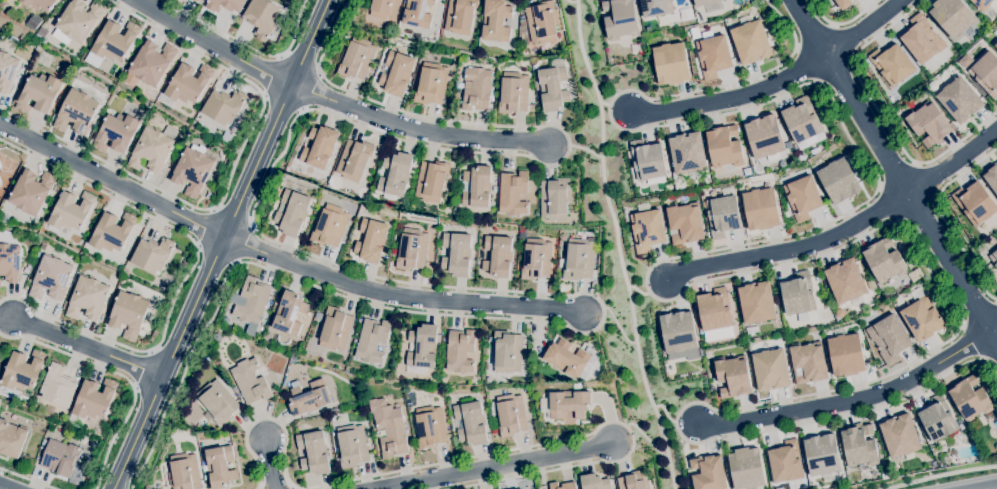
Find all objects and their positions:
building: (855, 0)
building: (198, 1)
building: (703, 2)
road: (572, 3)
building: (843, 3)
building: (40, 4)
building: (982, 4)
building: (224, 5)
building: (655, 8)
building: (385, 9)
building: (417, 13)
road: (819, 13)
building: (14, 14)
building: (952, 16)
building: (262, 17)
building: (460, 17)
road: (856, 17)
building: (619, 18)
building: (79, 20)
building: (496, 21)
building: (34, 22)
building: (522, 23)
building: (541, 23)
road: (861, 26)
road: (296, 28)
road: (224, 32)
building: (42, 33)
building: (115, 40)
building: (922, 40)
building: (751, 42)
road: (214, 44)
building: (996, 45)
building: (713, 56)
building: (356, 58)
building: (152, 63)
building: (671, 64)
building: (892, 65)
building: (7, 71)
building: (66, 71)
building: (396, 73)
building: (987, 74)
road: (860, 75)
road: (270, 77)
building: (189, 83)
building: (431, 84)
building: (553, 86)
building: (477, 89)
building: (513, 93)
building: (38, 94)
building: (959, 100)
road: (734, 101)
road: (604, 104)
building: (224, 106)
building: (76, 112)
building: (802, 121)
building: (929, 124)
road: (416, 130)
road: (637, 131)
building: (116, 133)
building: (226, 137)
building: (765, 137)
road: (960, 141)
building: (319, 147)
building: (724, 147)
building: (152, 149)
road: (584, 150)
building: (687, 153)
building: (353, 160)
building: (648, 160)
road: (953, 161)
building: (192, 169)
road: (895, 170)
building: (395, 175)
building: (992, 178)
road: (230, 179)
building: (431, 181)
building: (838, 181)
road: (112, 184)
building: (477, 187)
building: (31, 191)
road: (101, 191)
building: (513, 193)
building: (803, 198)
building: (555, 199)
building: (975, 203)
building: (761, 209)
building: (71, 211)
building: (291, 213)
building: (723, 216)
road: (941, 218)
building: (685, 224)
building: (329, 226)
building: (647, 230)
building: (112, 232)
building: (371, 240)
road: (220, 244)
road: (617, 244)
road: (791, 248)
building: (982, 249)
building: (411, 250)
building: (152, 254)
building: (457, 254)
building: (497, 256)
building: (994, 258)
building: (536, 259)
building: (579, 260)
building: (884, 261)
building: (10, 263)
road: (365, 272)
building: (51, 279)
building: (845, 281)
road: (639, 292)
building: (798, 294)
road: (399, 296)
building: (87, 298)
building: (252, 301)
road: (996, 302)
building: (757, 303)
building: (715, 309)
building: (289, 313)
building: (128, 315)
building: (318, 316)
building: (922, 319)
building: (226, 320)
road: (618, 327)
road: (961, 327)
building: (335, 329)
road: (994, 330)
building: (678, 332)
building: (889, 339)
building: (372, 340)
building: (422, 346)
road: (127, 347)
road: (90, 349)
building: (460, 351)
building: (508, 352)
road: (66, 353)
building: (846, 355)
building: (571, 360)
building: (808, 363)
building: (23, 370)
building: (770, 370)
building: (733, 377)
building: (250, 381)
building: (58, 387)
building: (309, 398)
building: (95, 399)
building: (970, 399)
road: (851, 400)
building: (218, 402)
building: (566, 403)
road: (666, 414)
building: (510, 416)
building: (937, 419)
building: (471, 423)
building: (430, 427)
building: (389, 428)
road: (115, 435)
building: (900, 436)
building: (11, 439)
road: (646, 439)
building: (950, 442)
building: (858, 445)
building: (352, 446)
building: (314, 452)
road: (482, 455)
building: (822, 455)
building: (60, 458)
building: (302, 459)
building: (785, 462)
road: (270, 463)
road: (490, 466)
building: (220, 467)
building: (746, 468)
building: (184, 472)
building: (708, 473)
road: (940, 475)
road: (26, 479)
building: (633, 481)
building: (594, 482)
road: (7, 486)
building: (563, 486)
road: (993, 488)

